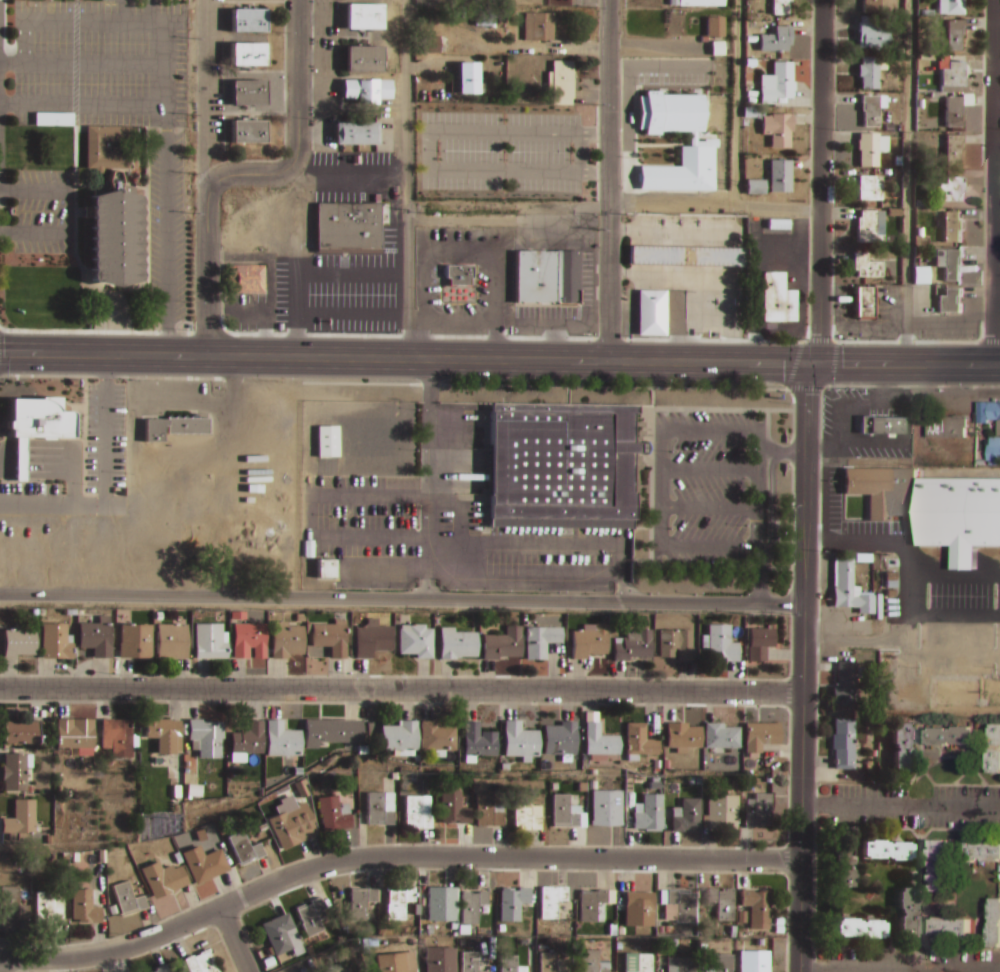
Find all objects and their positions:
building: (702, 3)
building: (873, 7)
building: (782, 8)
building: (955, 8)
road: (120, 13)
building: (364, 18)
building: (484, 19)
building: (248, 23)
building: (539, 28)
building: (874, 35)
building: (956, 37)
building: (778, 41)
building: (432, 45)
building: (247, 57)
building: (364, 62)
parking lot: (99, 64)
building: (870, 74)
building: (955, 76)
road: (23, 81)
building: (468, 81)
building: (563, 81)
building: (777, 85)
road: (163, 90)
building: (367, 92)
building: (248, 96)
road: (11, 102)
road: (735, 103)
building: (872, 112)
building: (955, 113)
building: (52, 120)
building: (779, 130)
building: (248, 134)
building: (356, 136)
building: (710, 141)
building: (94, 149)
parking lot: (503, 151)
building: (870, 151)
building: (955, 152)
road: (246, 172)
building: (781, 178)
road: (405, 179)
road: (609, 181)
road: (822, 182)
road: (908, 183)
road: (994, 183)
building: (757, 188)
building: (871, 190)
building: (953, 191)
road: (613, 207)
parking lot: (40, 210)
road: (66, 212)
building: (347, 226)
building: (779, 226)
parking lot: (164, 228)
building: (869, 229)
building: (953, 229)
building: (113, 240)
building: (689, 258)
building: (954, 266)
building: (868, 268)
road: (305, 271)
building: (921, 276)
building: (459, 277)
building: (547, 280)
building: (246, 281)
building: (778, 301)
building: (949, 301)
building: (863, 303)
road: (349, 312)
building: (652, 316)
road: (404, 358)
road: (904, 365)
building: (989, 414)
building: (37, 418)
building: (881, 425)
building: (945, 427)
building: (173, 429)
building: (326, 441)
building: (993, 451)
building: (19, 459)
building: (560, 462)
building: (884, 490)
building: (325, 571)
building: (360, 573)
building: (850, 590)
road: (403, 600)
building: (96, 640)
building: (331, 640)
building: (372, 642)
building: (19, 643)
building: (250, 643)
building: (287, 643)
building: (416, 643)
building: (542, 643)
building: (135, 644)
building: (172, 644)
building: (210, 644)
building: (589, 644)
building: (56, 645)
building: (458, 646)
building: (504, 646)
building: (761, 646)
building: (634, 647)
building: (677, 647)
building: (722, 647)
road: (805, 668)
road: (402, 689)
building: (840, 690)
building: (331, 730)
building: (20, 731)
building: (160, 732)
building: (75, 733)
building: (400, 734)
building: (683, 734)
building: (761, 734)
building: (117, 735)
building: (205, 735)
building: (437, 735)
building: (722, 735)
building: (561, 736)
building: (248, 737)
building: (282, 738)
building: (520, 738)
building: (479, 739)
building: (600, 739)
building: (949, 739)
building: (639, 740)
building: (842, 743)
building: (901, 748)
building: (993, 750)
building: (12, 774)
building: (454, 805)
building: (607, 806)
building: (380, 807)
building: (761, 808)
building: (488, 809)
road: (902, 809)
building: (419, 810)
building: (563, 810)
building: (723, 810)
building: (650, 811)
building: (333, 812)
building: (526, 813)
building: (687, 814)
building: (20, 816)
building: (292, 825)
building: (245, 847)
building: (886, 852)
building: (982, 854)
road: (392, 857)
building: (200, 863)
building: (938, 868)
building: (845, 872)
building: (163, 877)
building: (127, 897)
building: (552, 899)
building: (439, 900)
building: (361, 901)
building: (397, 901)
building: (594, 901)
building: (722, 901)
building: (12, 902)
building: (513, 902)
building: (473, 904)
building: (678, 904)
building: (757, 904)
building: (49, 906)
building: (85, 906)
building: (642, 906)
building: (907, 913)
building: (311, 915)
building: (993, 925)
building: (860, 928)
building: (948, 929)
building: (281, 933)
road: (234, 940)
building: (437, 960)
building: (593, 961)
building: (201, 962)
building: (470, 962)
building: (549, 962)
building: (643, 962)
building: (724, 962)
building: (758, 962)
building: (394, 963)
building: (511, 964)
building: (686, 964)
building: (160, 968)
building: (334, 968)
road: (822, 971)

